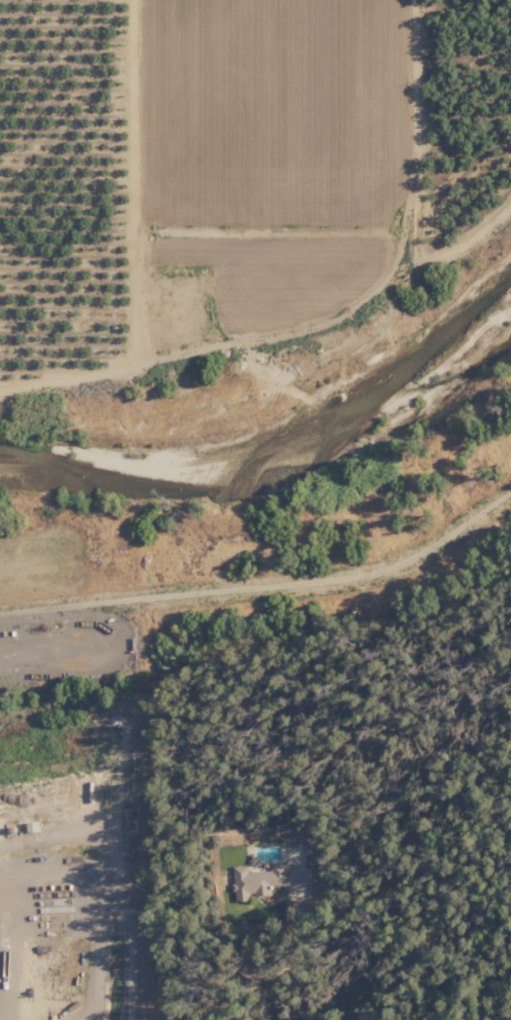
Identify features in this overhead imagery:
crop: (232, 167)
road: (132, 180)
river: (279, 430)
road: (266, 585)
building: (258, 879)
road: (256, 979)

